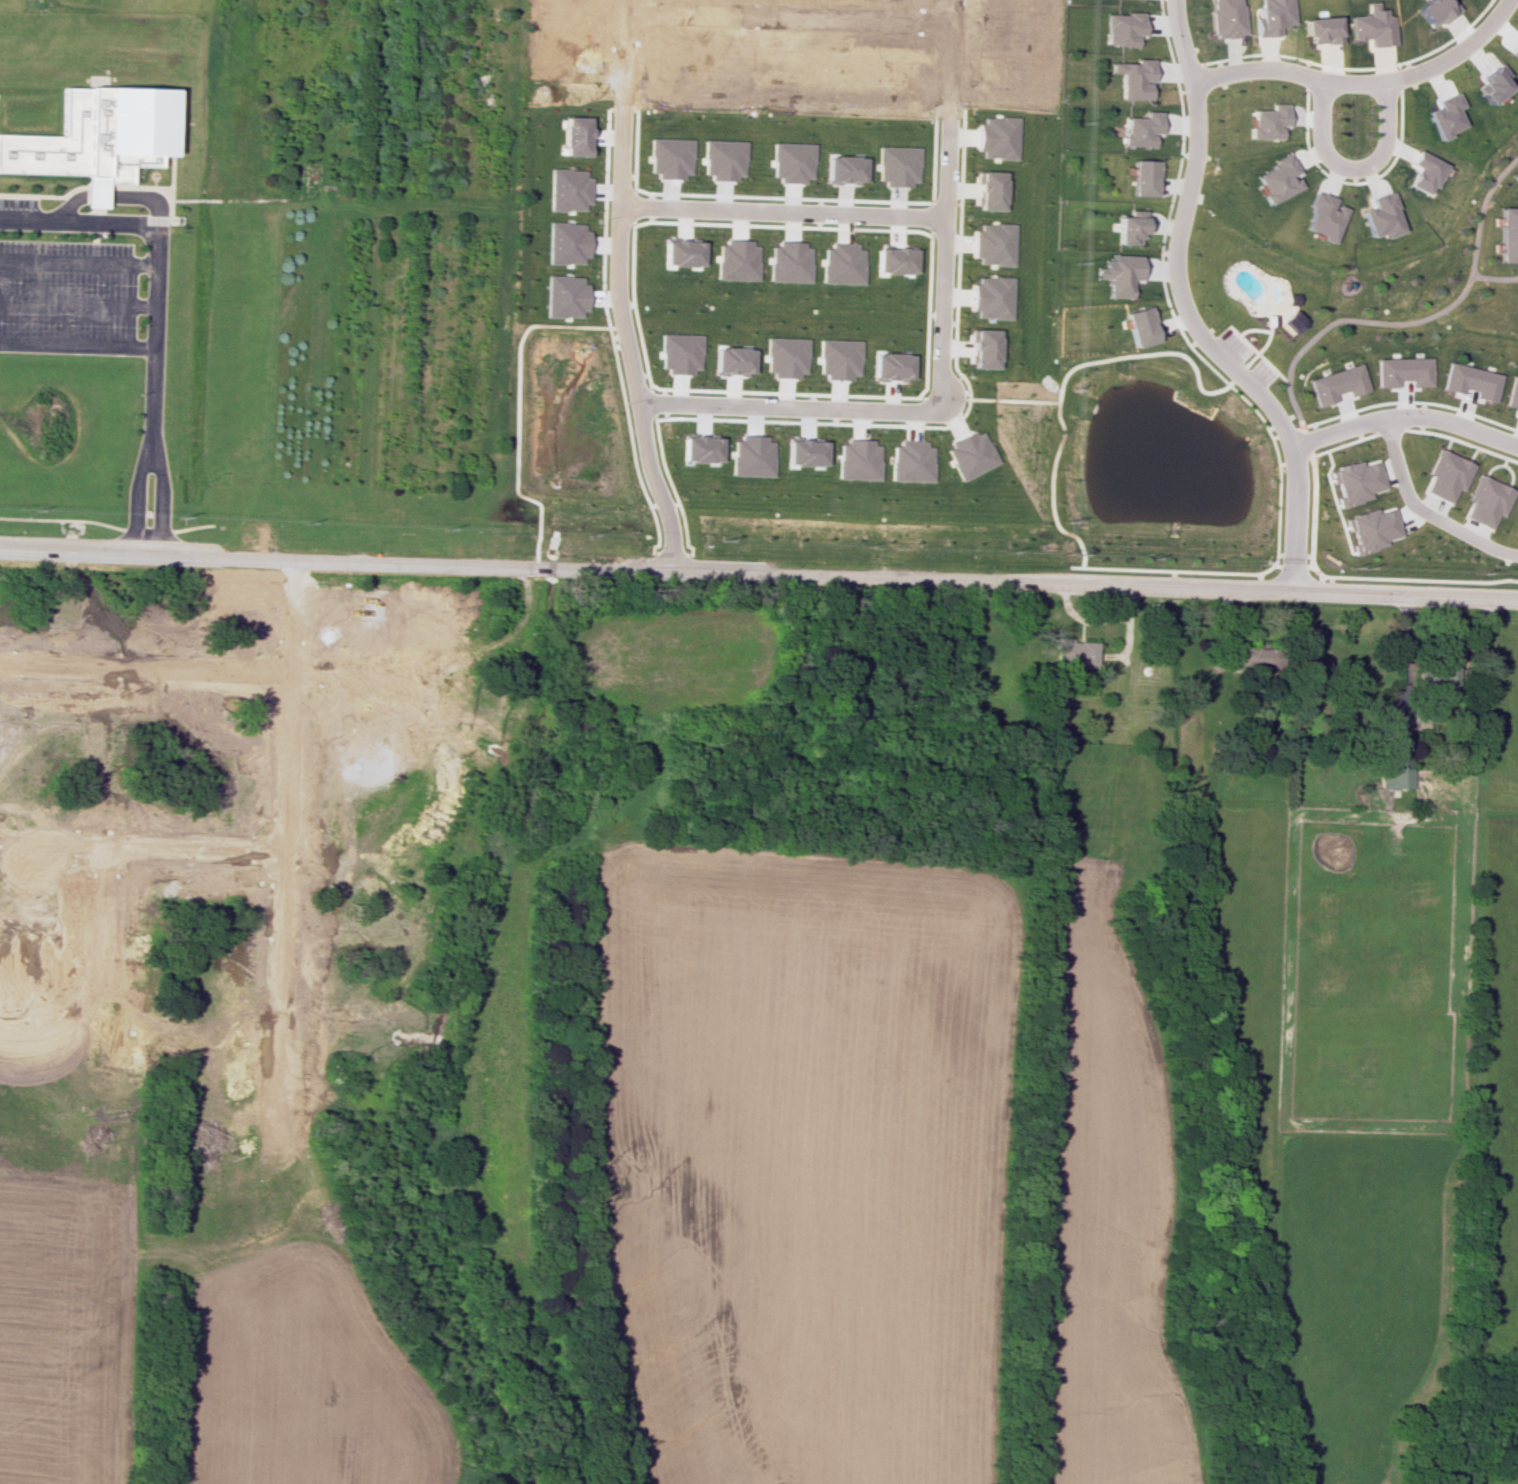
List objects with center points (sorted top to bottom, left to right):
building: (1432, 11)
building: (1271, 17)
road: (786, 18)
building: (1226, 18)
building: (1370, 26)
building: (1122, 28)
building: (1320, 30)
building: (1133, 78)
road: (1361, 82)
building: (1444, 115)
building: (1266, 121)
building: (1140, 129)
building: (95, 133)
building: (996, 137)
building: (668, 157)
building: (721, 160)
building: (790, 161)
building: (896, 165)
road: (1349, 167)
building: (842, 169)
building: (1423, 172)
building: (1515, 175)
building: (1142, 178)
building: (1275, 179)
building: (988, 190)
road: (108, 197)
road: (944, 202)
parking lot: (17, 203)
road: (780, 211)
building: (1380, 216)
building: (1320, 217)
road: (77, 223)
building: (1128, 229)
building: (1509, 234)
building: (992, 244)
building: (679, 253)
building: (735, 260)
building: (893, 260)
building: (788, 262)
road: (77, 263)
building: (840, 263)
building: (1118, 274)
road: (1494, 278)
parking lot: (66, 289)
road: (615, 289)
building: (990, 297)
building: (1289, 299)
road: (76, 304)
road: (1184, 312)
building: (1267, 319)
building: (1291, 321)
road: (1415, 321)
road: (152, 326)
building: (1139, 326)
road: (1250, 329)
parking lot: (1233, 342)
road: (76, 344)
building: (983, 348)
road: (1259, 348)
building: (677, 353)
road: (1256, 354)
building: (785, 356)
building: (838, 358)
building: (731, 361)
building: (891, 366)
parking lot: (1261, 370)
building: (1403, 371)
road: (1235, 373)
road: (1064, 381)
building: (1471, 381)
road: (1225, 383)
building: (1336, 384)
building: (1512, 394)
road: (1012, 400)
road: (787, 407)
road: (1404, 416)
building: (804, 452)
building: (969, 454)
building: (751, 456)
building: (857, 460)
building: (910, 461)
building: (1446, 475)
building: (1356, 481)
road: (133, 489)
road: (159, 490)
building: (1486, 501)
road: (1423, 511)
building: (1371, 529)
road: (432, 564)
road: (1191, 587)
building: (1074, 652)
road: (1405, 666)
building: (1443, 671)
building: (1054, 716)
building: (1396, 767)
crop: (802, 1162)
crop: (1109, 1223)
crop: (65, 1329)
crop: (303, 1383)

